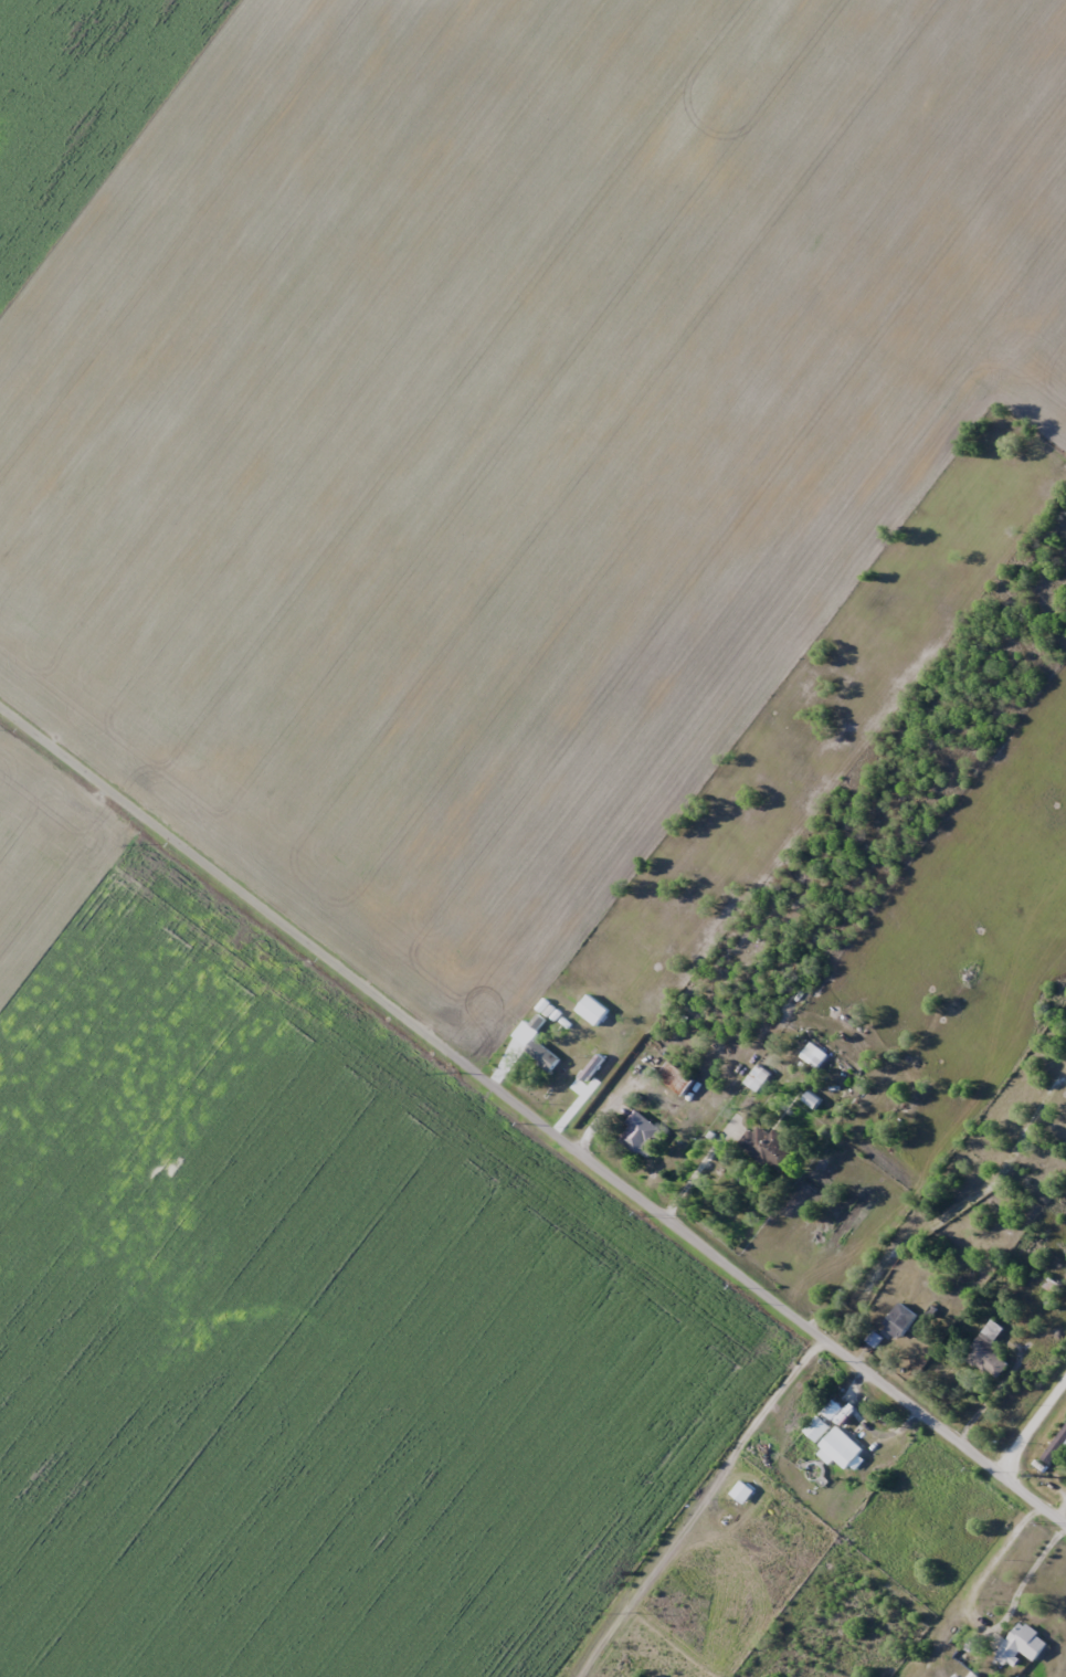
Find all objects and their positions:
building: (535, 1044)
building: (812, 1053)
building: (676, 1077)
building: (756, 1077)
building: (810, 1100)
road: (532, 1114)
building: (640, 1135)
building: (767, 1149)
building: (899, 1320)
building: (988, 1349)
building: (816, 1428)
road: (1037, 1437)
building: (841, 1447)
building: (1054, 1447)
building: (1021, 1644)

